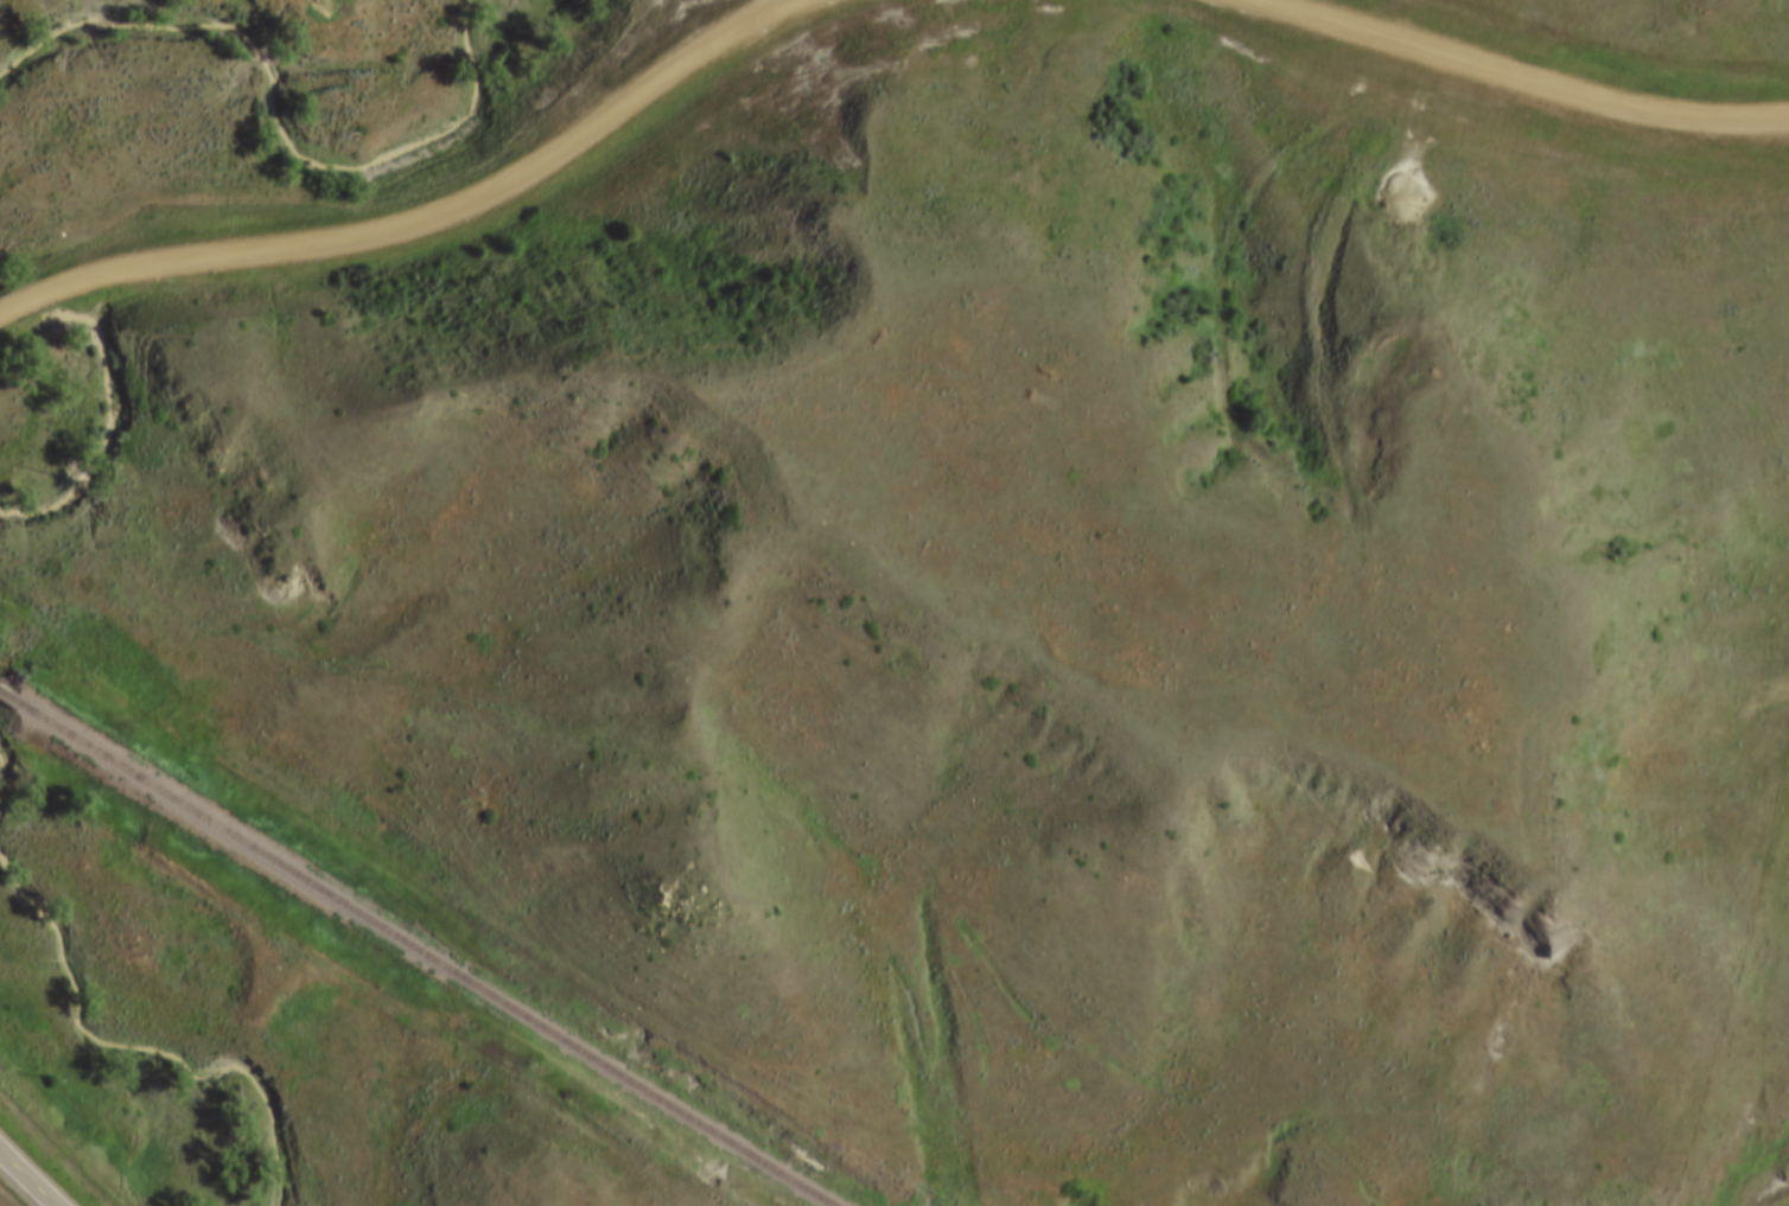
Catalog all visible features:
road: (1498, 64)
road: (416, 224)
railway: (419, 947)
road: (32, 1174)

